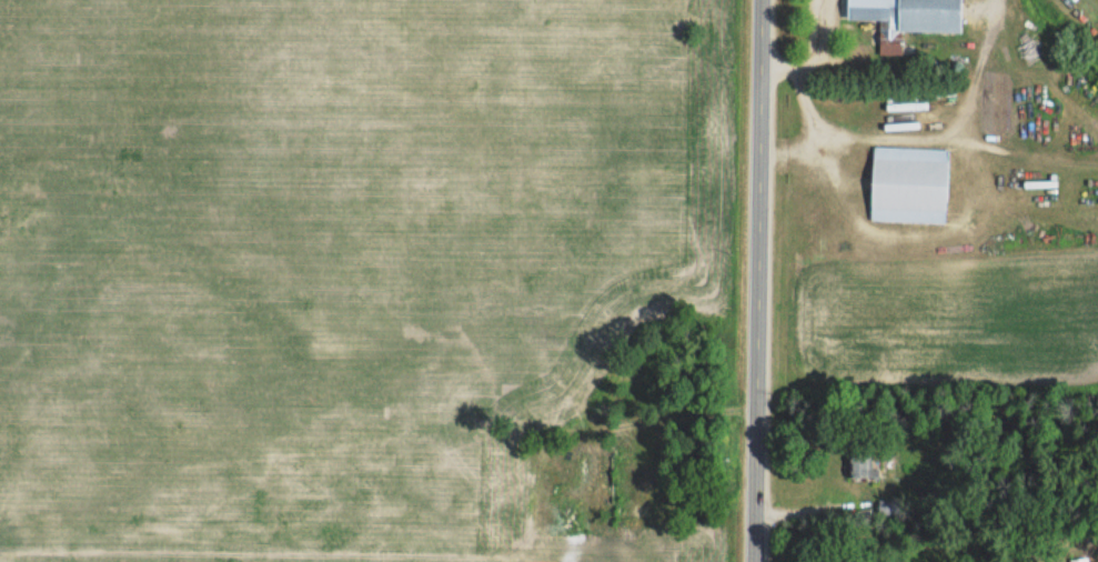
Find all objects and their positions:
building: (886, 20)
road: (814, 52)
building: (909, 183)
road: (759, 280)
building: (863, 464)

